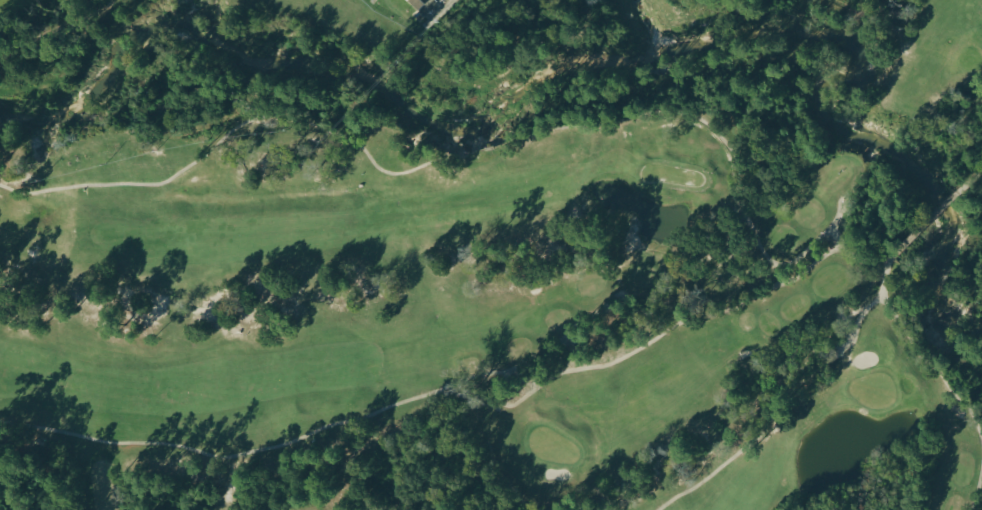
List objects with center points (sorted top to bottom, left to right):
building: (416, 3)
river: (594, 65)
road: (460, 151)
road: (979, 171)
road: (971, 179)
road: (923, 228)
road: (852, 257)
road: (789, 284)
park: (499, 309)
road: (706, 318)
road: (521, 371)
road: (937, 376)
road: (791, 396)
road: (350, 420)
road: (977, 492)

